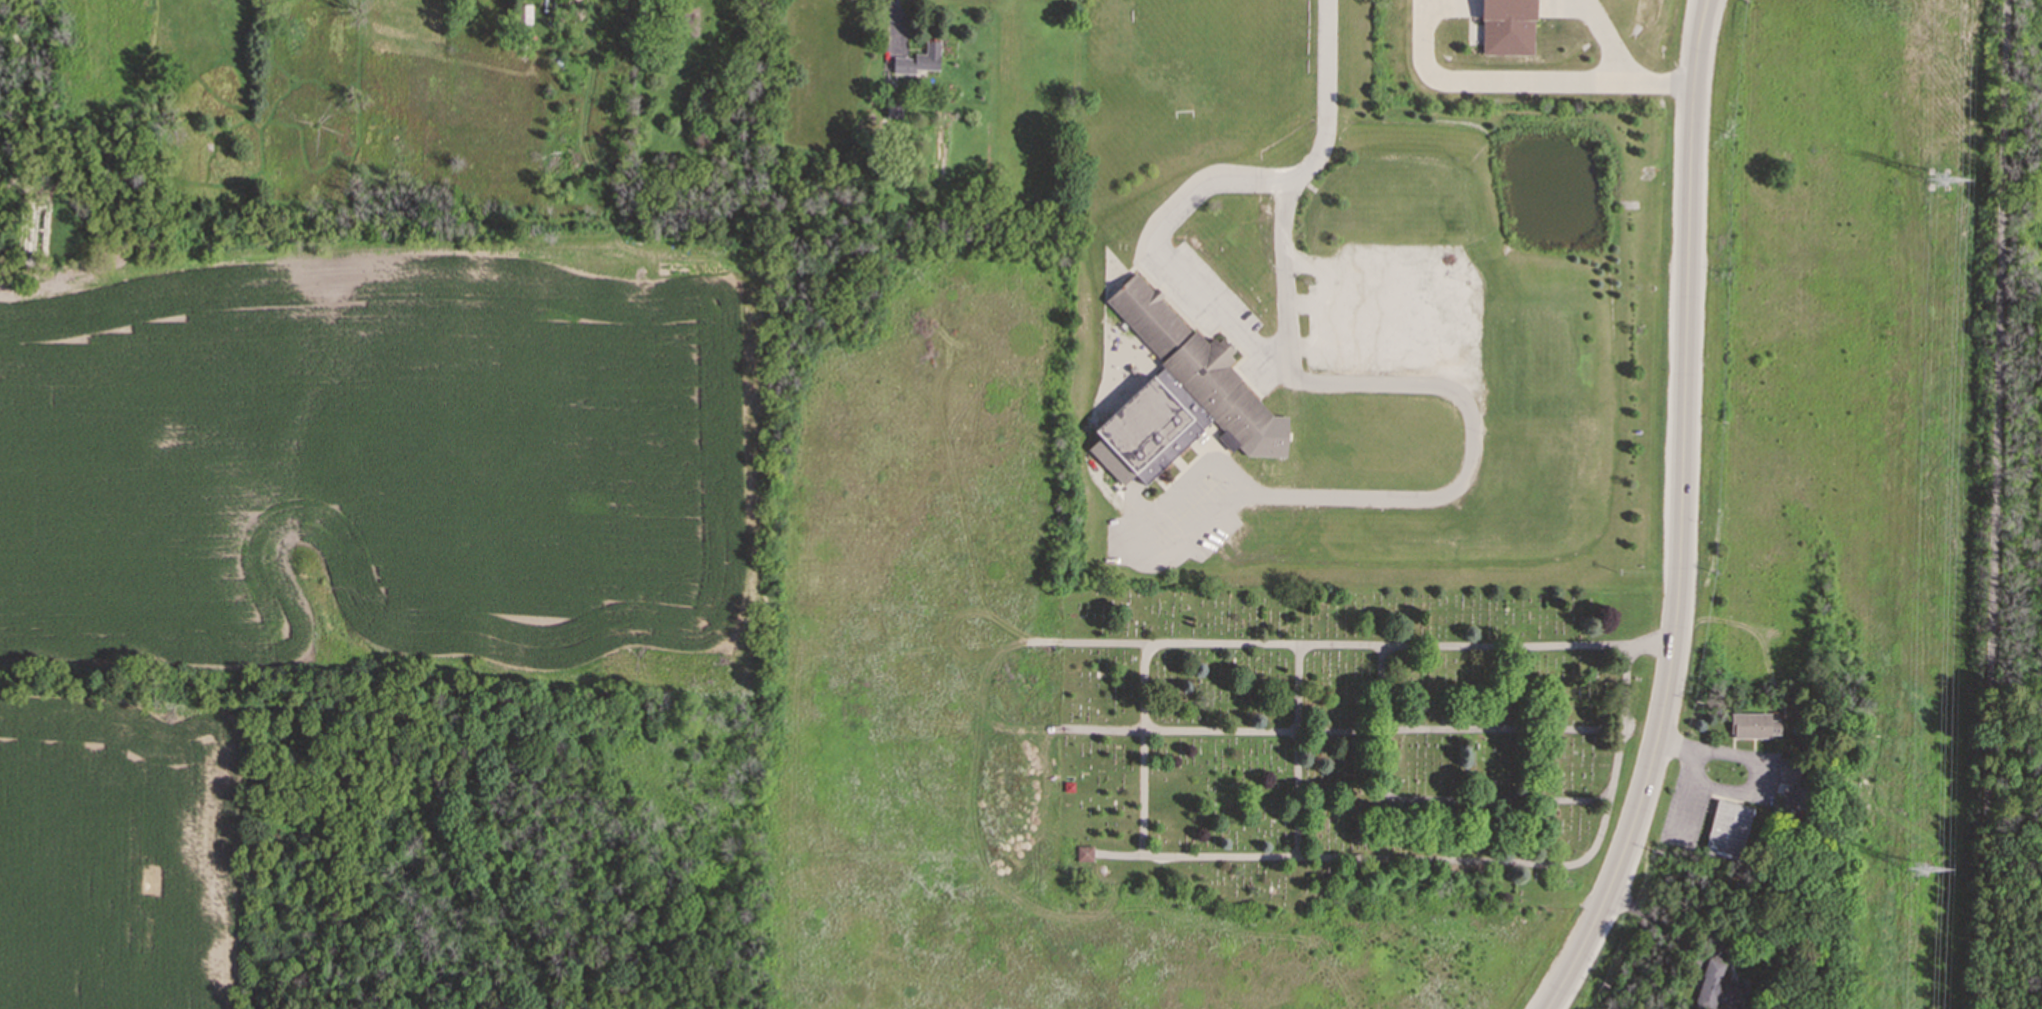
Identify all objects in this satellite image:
building: (1507, 27)
building: (919, 59)
road: (1618, 71)
road: (1325, 98)
road: (1693, 106)
power tower: (1938, 184)
road: (1218, 313)
building: (1179, 395)
road: (1342, 497)
road: (1996, 504)
crop: (340, 546)
road: (1675, 623)
building: (1754, 724)
building: (1787, 771)
road: (1733, 789)
road: (1687, 792)
building: (1727, 829)
building: (1084, 853)
power tower: (1922, 873)
building: (1717, 987)

